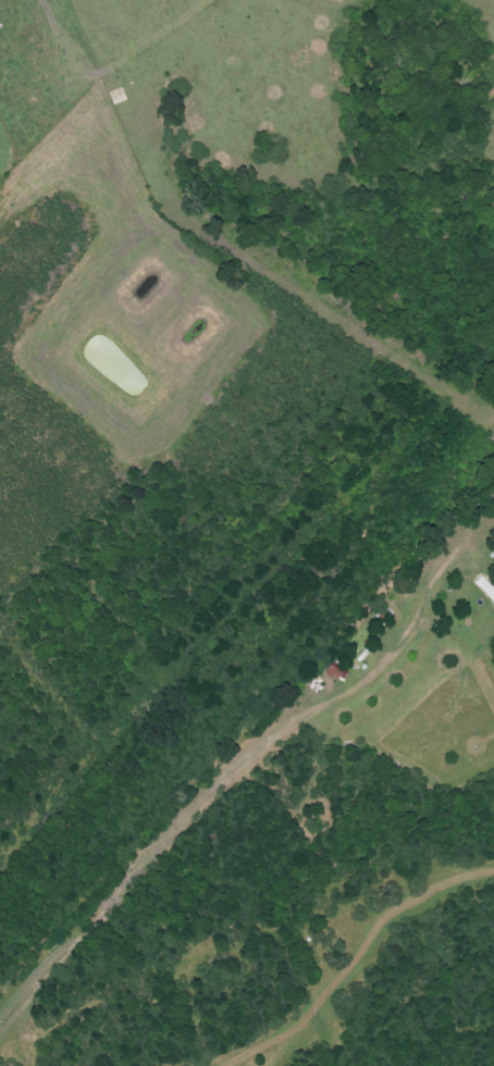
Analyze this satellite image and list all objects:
road: (120, 55)
building: (487, 585)
building: (337, 671)
road: (301, 715)
road: (60, 925)

